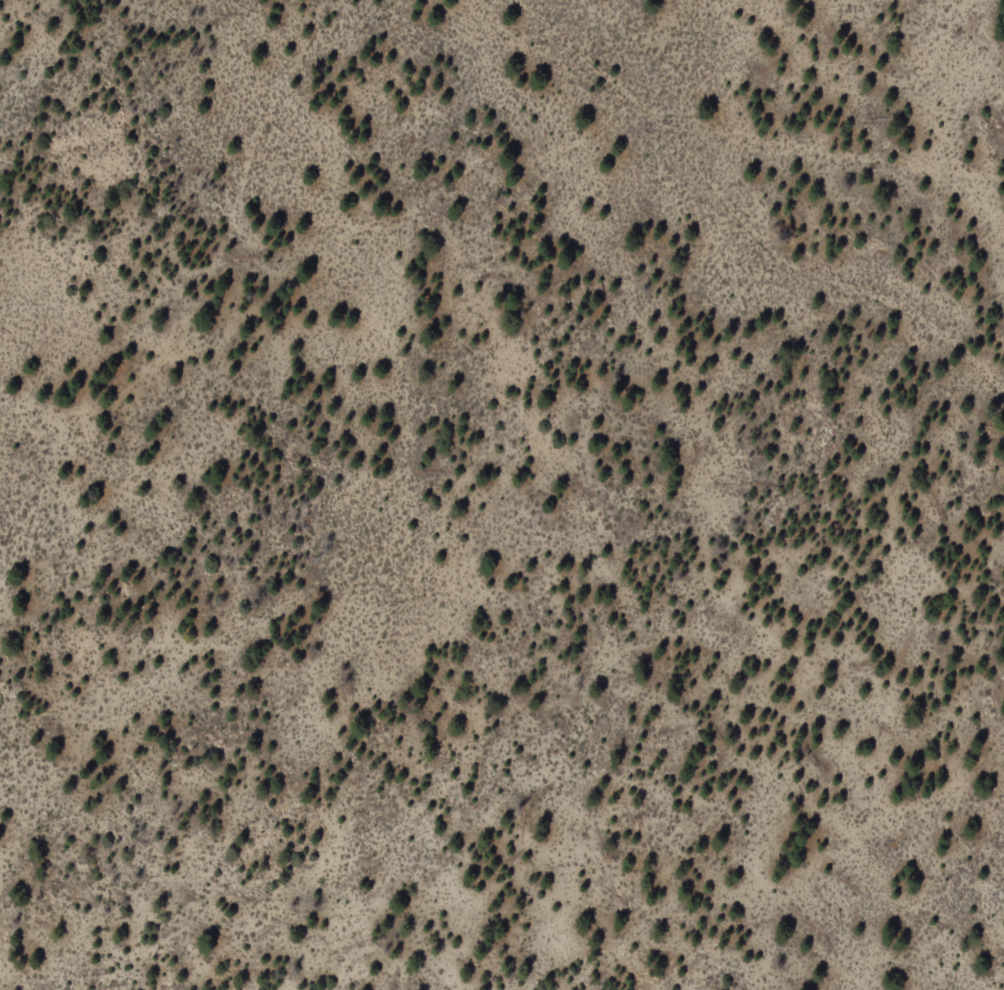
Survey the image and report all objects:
road: (249, 186)
road: (744, 219)
road: (270, 294)

